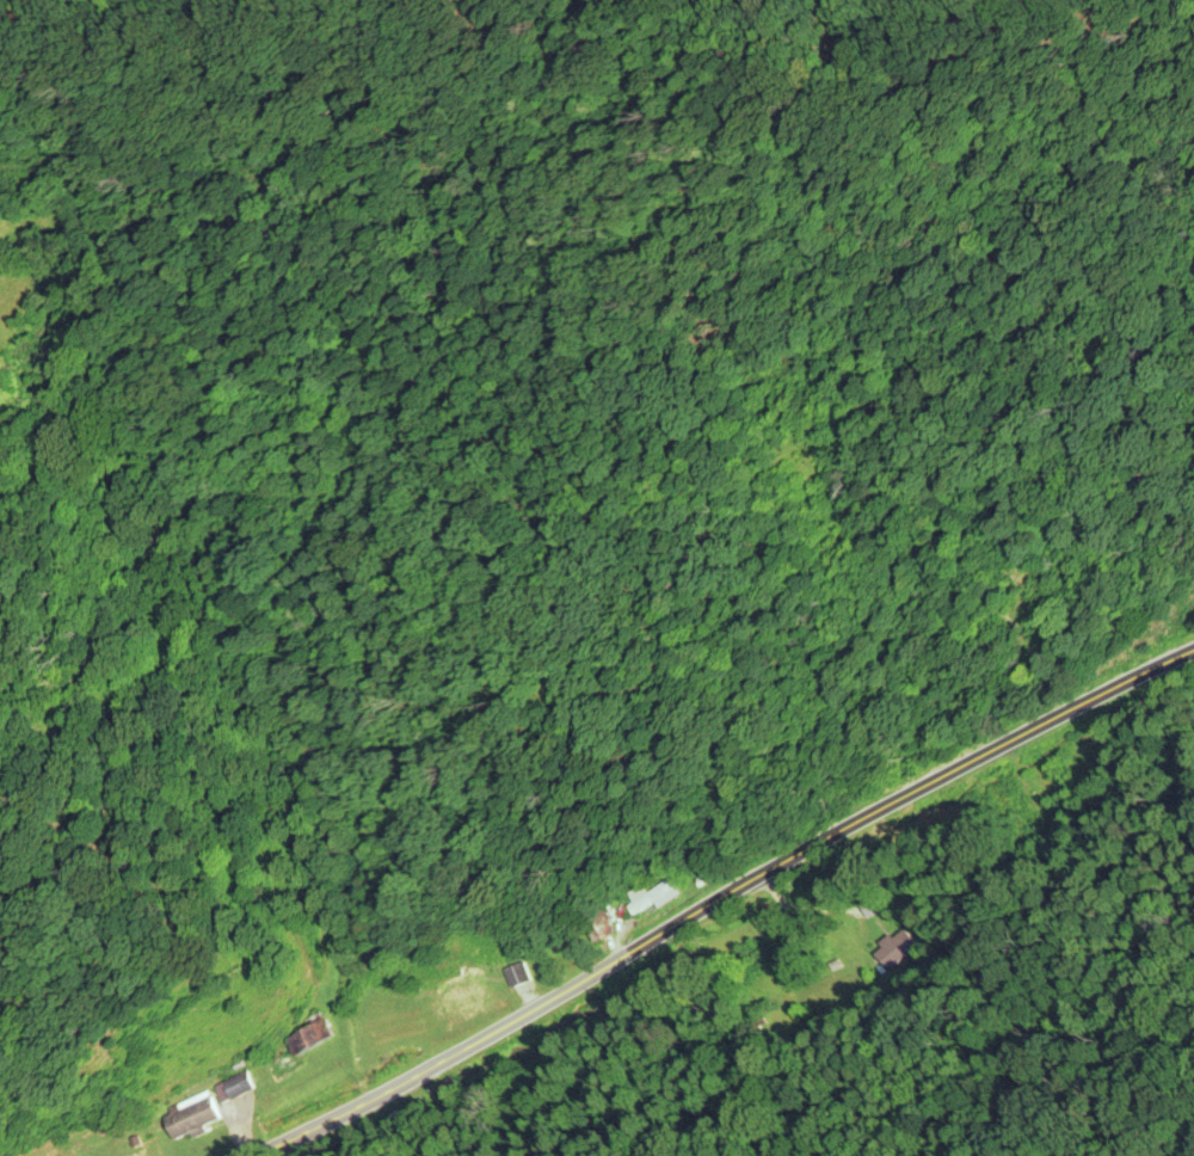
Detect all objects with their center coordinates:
building: (1057, 782)
building: (653, 896)
building: (873, 908)
road: (702, 911)
building: (605, 923)
building: (894, 947)
building: (521, 973)
building: (464, 995)
building: (312, 1037)
building: (239, 1083)
building: (195, 1118)

